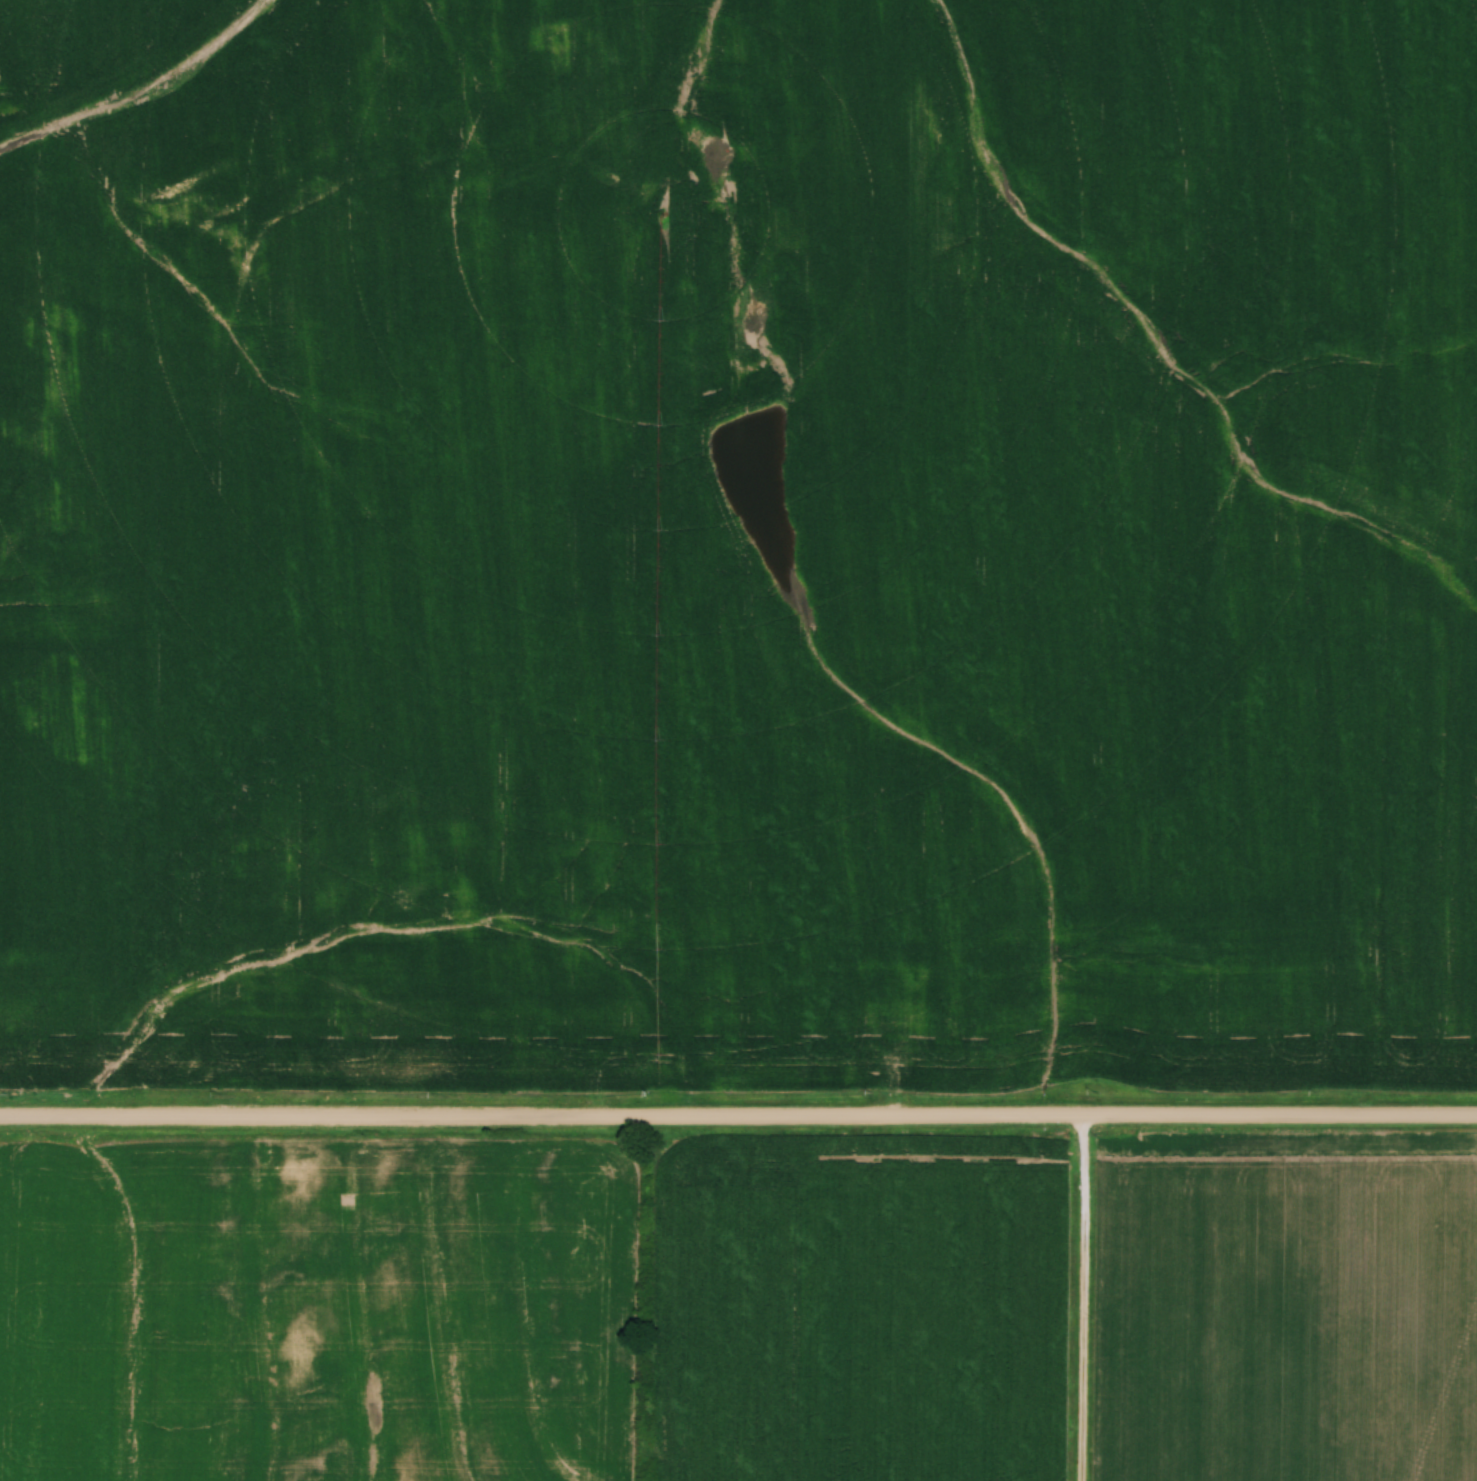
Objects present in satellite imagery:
road: (738, 1118)
road: (1086, 1298)

